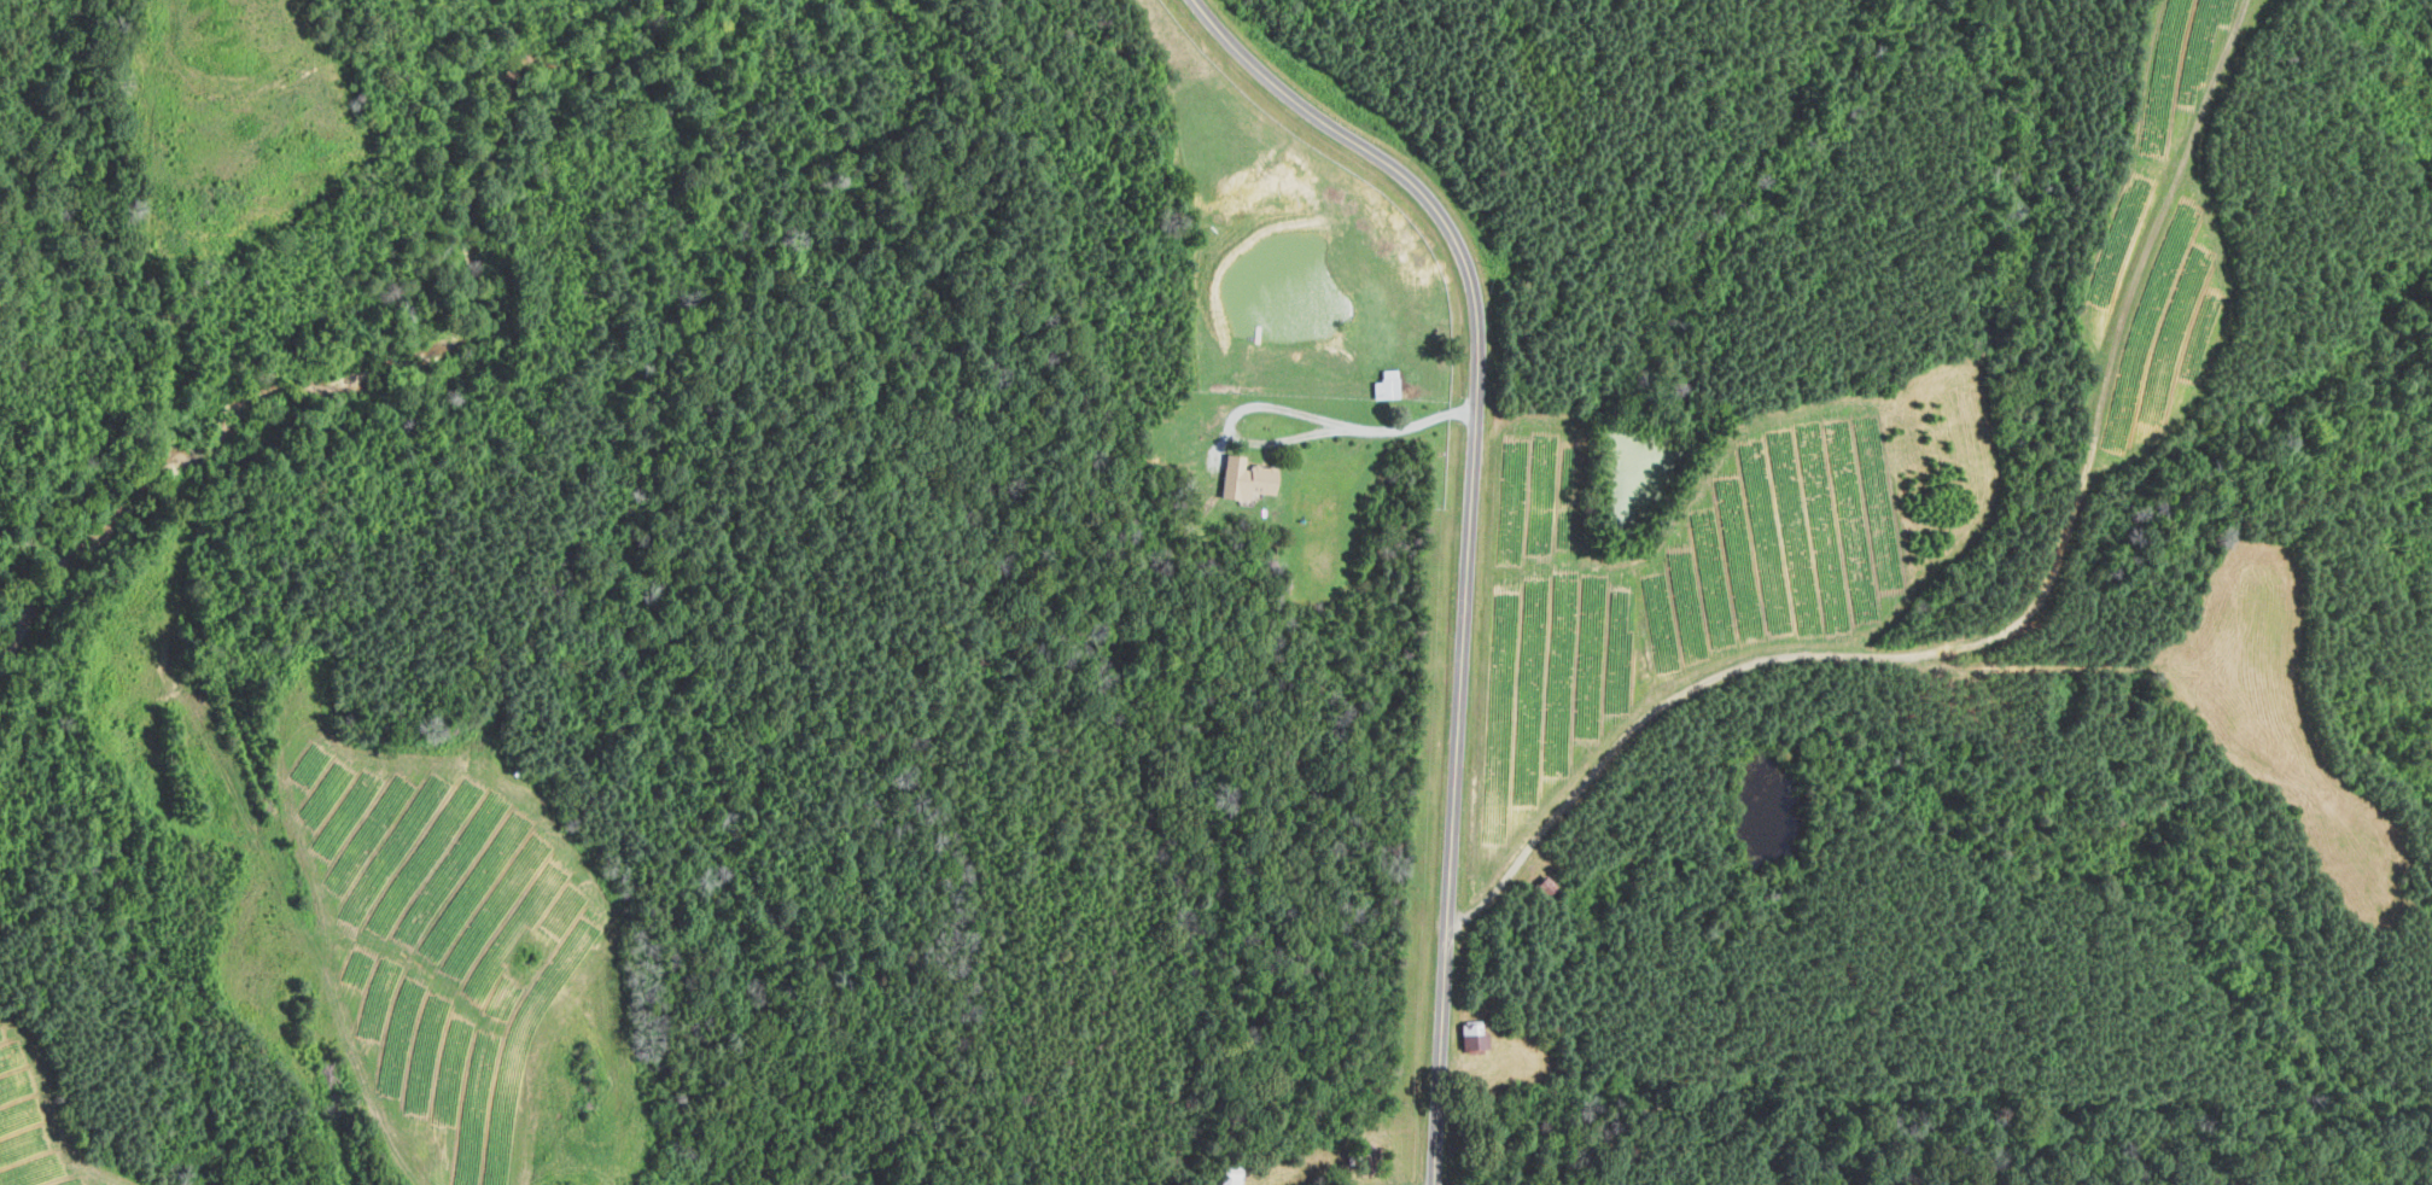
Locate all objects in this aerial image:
road: (1283, 407)
building: (1243, 478)
road: (1466, 531)
building: (1471, 1038)

